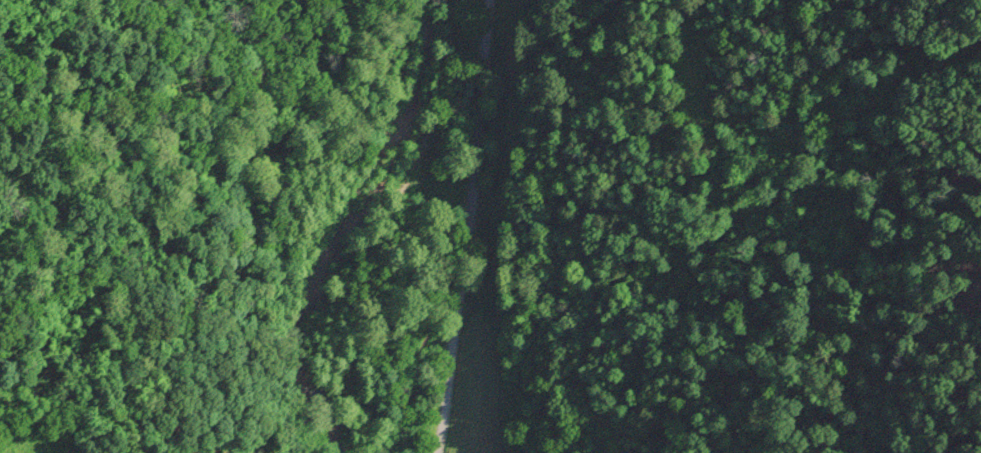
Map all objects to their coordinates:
road: (467, 227)

